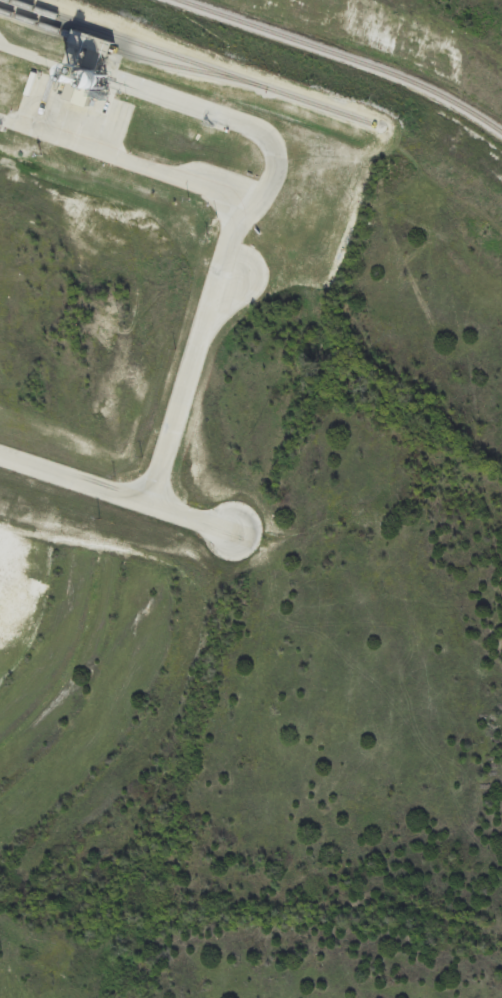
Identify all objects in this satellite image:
railway: (131, 54)
railway: (347, 55)
railway: (192, 62)
road: (223, 308)
road: (119, 495)

